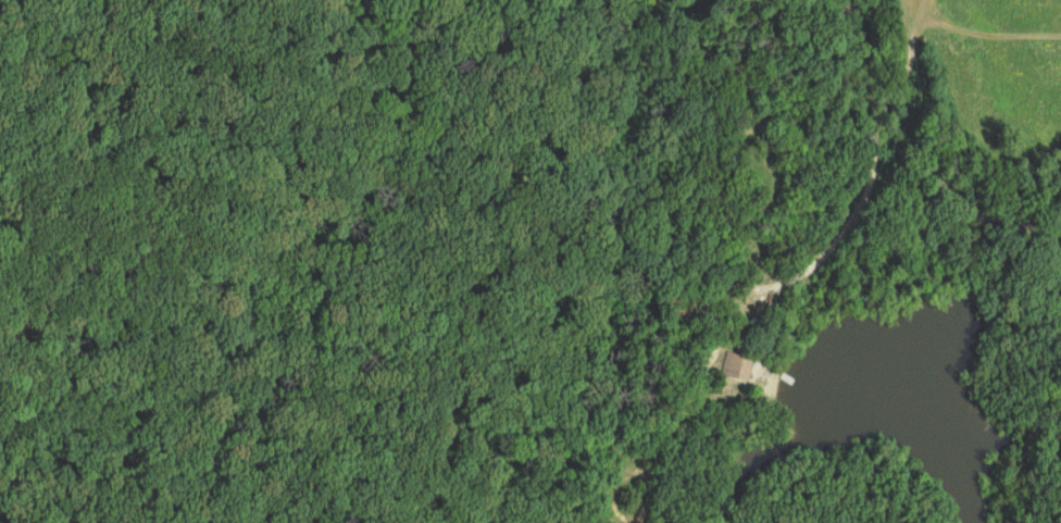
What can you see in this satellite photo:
building: (738, 368)

